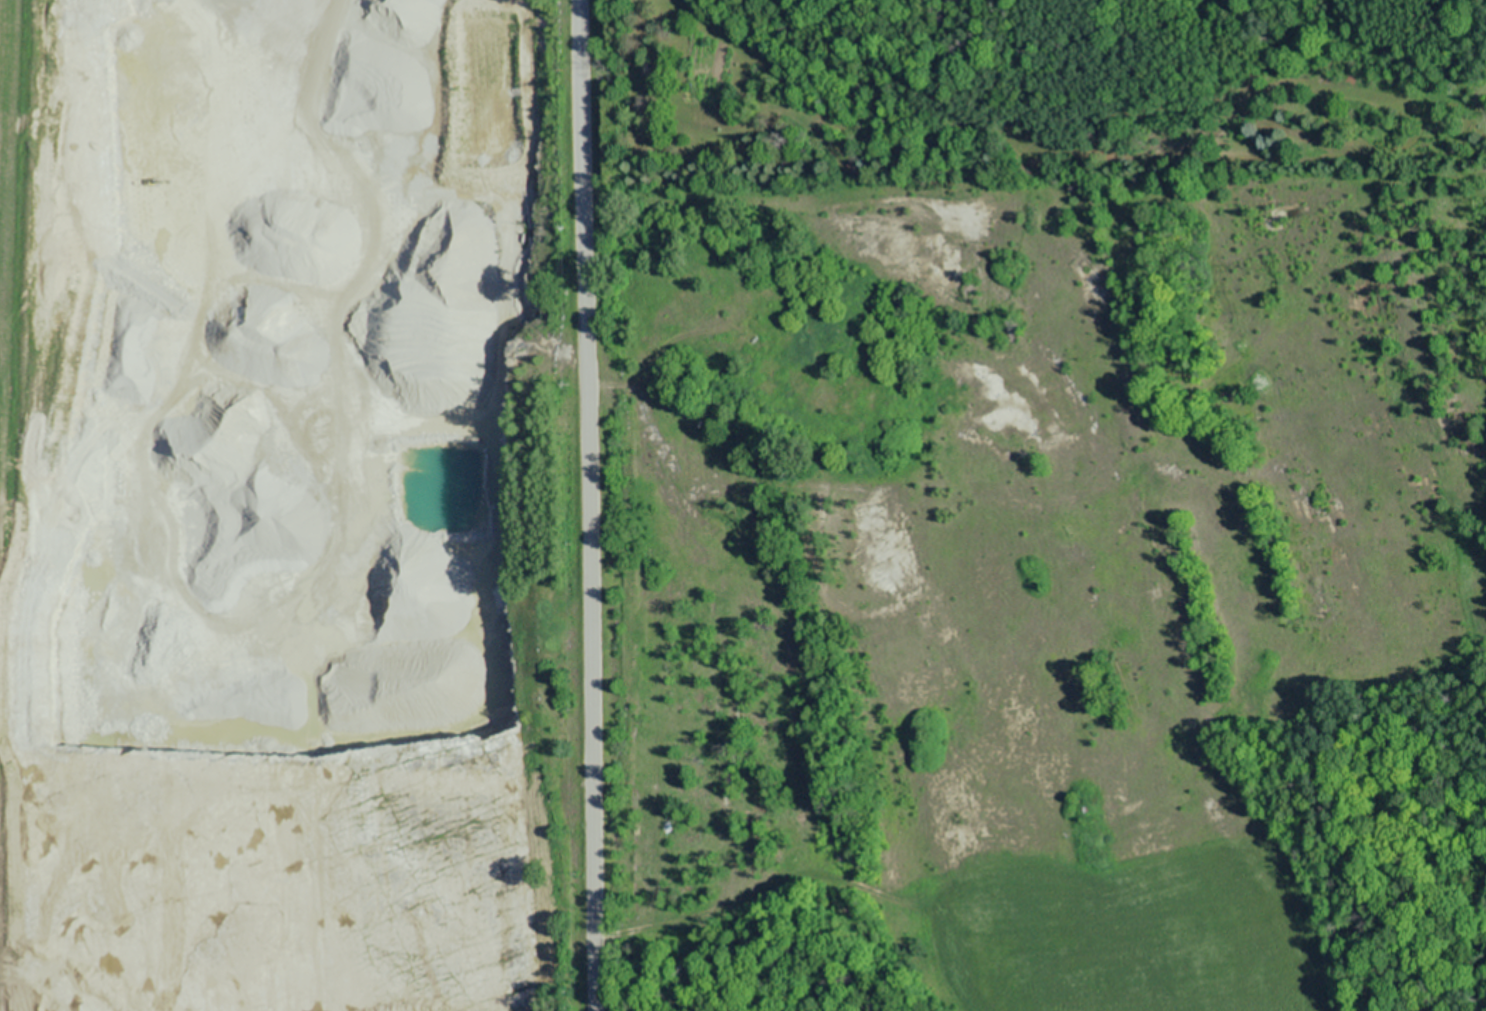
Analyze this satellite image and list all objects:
road: (591, 505)
quarry: (291, 508)

